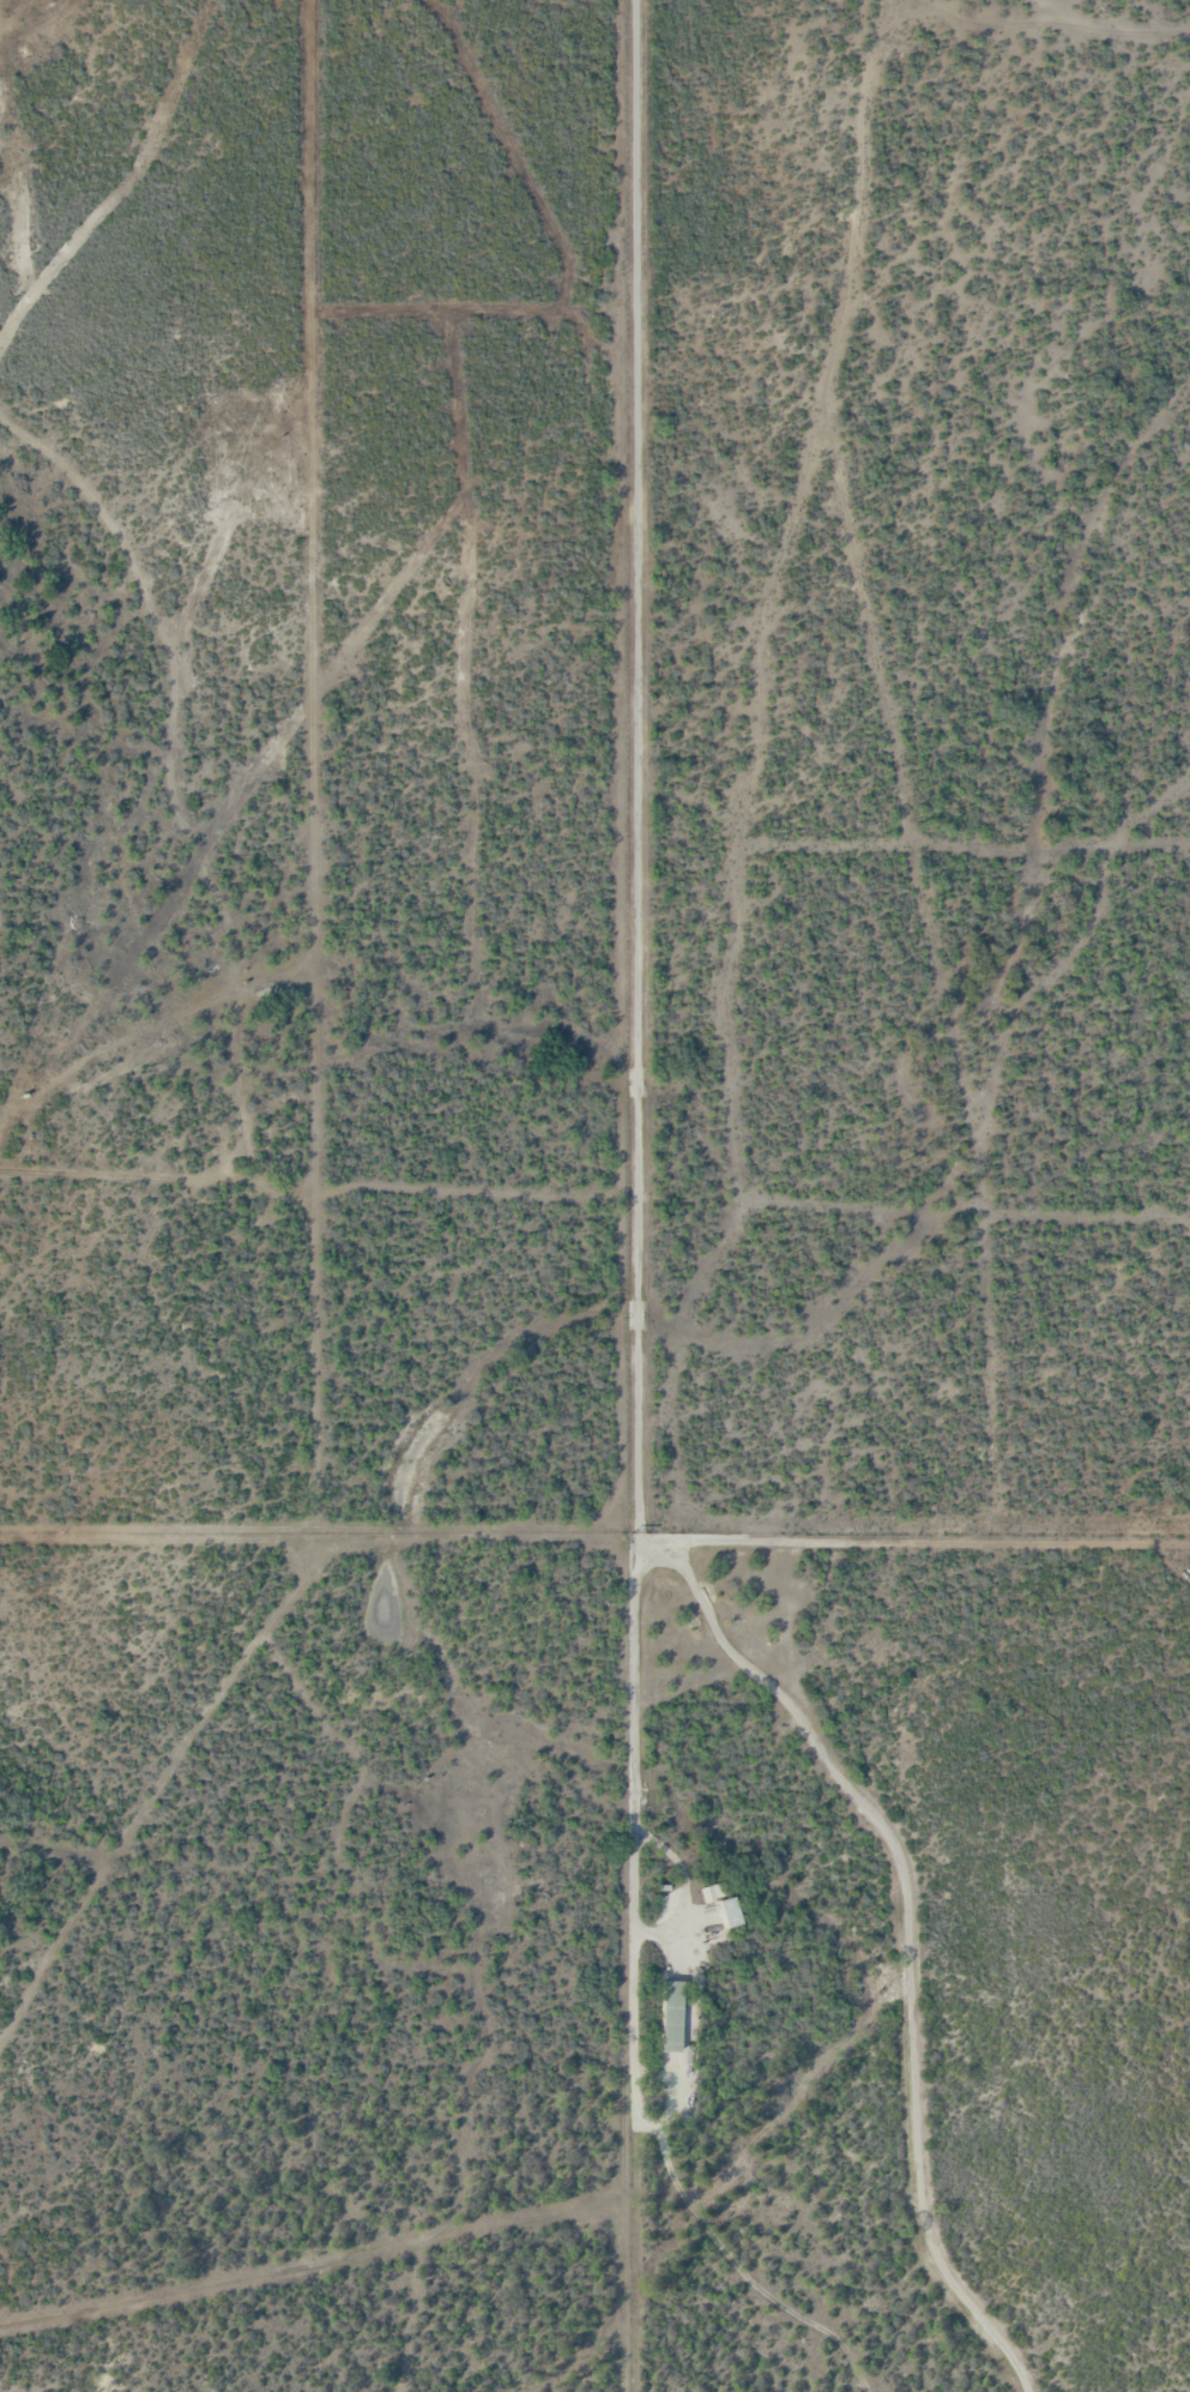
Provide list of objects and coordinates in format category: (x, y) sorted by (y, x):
road: (807, 623)
road: (594, 1237)
building: (727, 1914)

